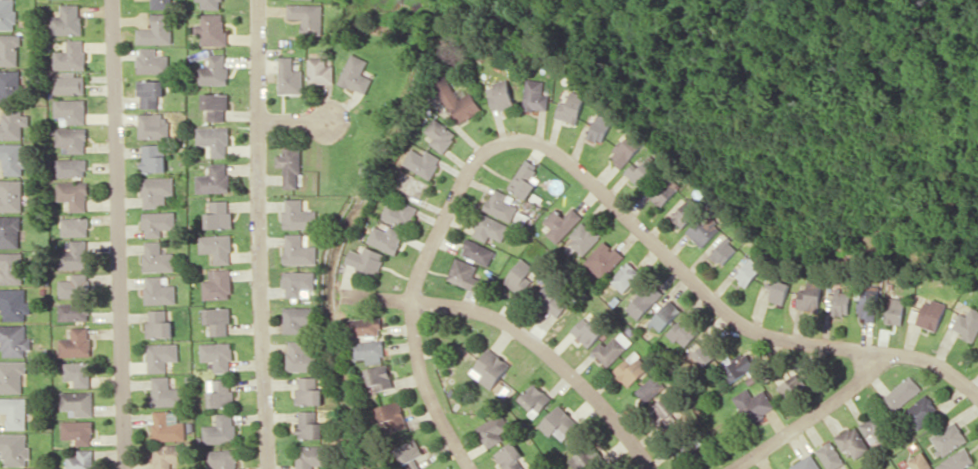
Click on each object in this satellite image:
building: (161, 3)
building: (211, 3)
building: (7, 14)
building: (308, 16)
building: (67, 20)
building: (212, 28)
building: (157, 30)
building: (9, 49)
building: (71, 56)
building: (152, 60)
building: (213, 70)
building: (320, 70)
building: (355, 74)
building: (289, 76)
building: (69, 83)
building: (10, 85)
building: (150, 92)
building: (500, 95)
building: (535, 95)
building: (457, 100)
building: (216, 105)
building: (570, 107)
building: (71, 110)
road: (293, 120)
building: (12, 123)
building: (153, 125)
building: (599, 127)
building: (440, 134)
building: (72, 139)
building: (214, 140)
building: (627, 147)
building: (153, 157)
building: (13, 158)
building: (422, 162)
building: (290, 165)
building: (71, 167)
building: (643, 170)
building: (214, 179)
building: (524, 179)
building: (157, 190)
building: (665, 191)
building: (11, 194)
building: (73, 194)
building: (501, 204)
building: (398, 212)
building: (686, 212)
building: (218, 213)
building: (297, 214)
building: (158, 222)
building: (560, 223)
building: (75, 226)
building: (489, 227)
building: (10, 231)
building: (703, 231)
road: (121, 234)
road: (263, 234)
building: (584, 236)
building: (385, 238)
road: (651, 240)
building: (217, 247)
building: (298, 250)
building: (724, 250)
building: (477, 251)
building: (75, 255)
building: (157, 257)
building: (603, 258)
building: (365, 259)
building: (11, 267)
building: (748, 271)
building: (465, 274)
building: (519, 276)
building: (625, 276)
building: (297, 281)
building: (218, 284)
building: (75, 285)
building: (159, 290)
building: (780, 291)
building: (810, 296)
building: (551, 299)
building: (643, 301)
building: (842, 302)
building: (14, 303)
building: (868, 308)
building: (895, 310)
building: (74, 311)
building: (930, 314)
building: (664, 315)
building: (297, 318)
building: (218, 320)
building: (159, 323)
building: (967, 323)
building: (365, 326)
building: (587, 330)
building: (683, 331)
road: (523, 334)
building: (14, 340)
building: (76, 342)
building: (609, 350)
building: (369, 351)
building: (706, 353)
building: (161, 355)
building: (218, 355)
building: (302, 356)
building: (738, 366)
building: (491, 367)
building: (631, 368)
building: (78, 372)
building: (12, 375)
building: (379, 377)
building: (792, 384)
building: (650, 388)
building: (308, 390)
road: (424, 390)
building: (164, 392)
building: (221, 392)
building: (901, 392)
building: (534, 398)
building: (77, 402)
building: (753, 404)
building: (15, 411)
building: (666, 411)
building: (921, 411)
road: (810, 414)
building: (388, 416)
building: (559, 421)
building: (308, 423)
building: (167, 425)
building: (875, 428)
building: (221, 429)
building: (492, 430)
building: (78, 431)
building: (948, 438)
building: (852, 442)
building: (15, 449)
building: (409, 450)
building: (167, 455)
building: (830, 455)
building: (310, 456)
building: (510, 456)
building: (222, 458)
building: (81, 460)
building: (580, 460)
building: (957, 460)
building: (919, 462)
building: (806, 463)

